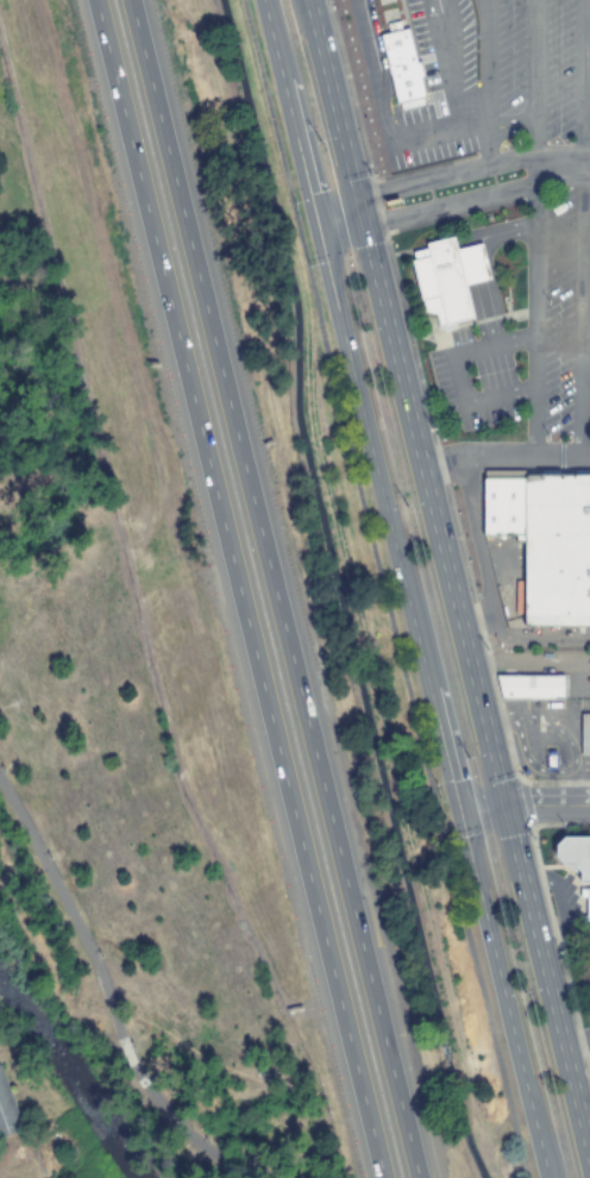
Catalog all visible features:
road: (439, 13)
parking lot: (463, 43)
road: (456, 62)
parking lot: (539, 63)
parking lot: (438, 65)
road: (382, 70)
building: (401, 70)
road: (484, 82)
road: (462, 126)
road: (451, 174)
road: (456, 203)
road: (534, 227)
road: (580, 228)
road: (502, 232)
road: (472, 263)
building: (471, 264)
building: (439, 281)
road: (485, 315)
parking lot: (561, 315)
road: (452, 376)
parking lot: (495, 376)
road: (506, 456)
building: (544, 539)
road: (478, 554)
road: (448, 570)
road: (274, 588)
road: (407, 588)
road: (237, 589)
road: (382, 589)
building: (528, 687)
building: (584, 734)
building: (547, 760)
road: (571, 765)
street lamp: (2, 771)
road: (525, 804)
building: (573, 856)
street lamp: (49, 858)
road: (68, 908)
building: (586, 911)
street lamp: (100, 955)
street lamp: (132, 1046)
road: (125, 1053)
river: (68, 1073)
road: (134, 1073)
road: (140, 1083)
building: (7, 1110)
street lamp: (207, 1142)
road: (195, 1143)

